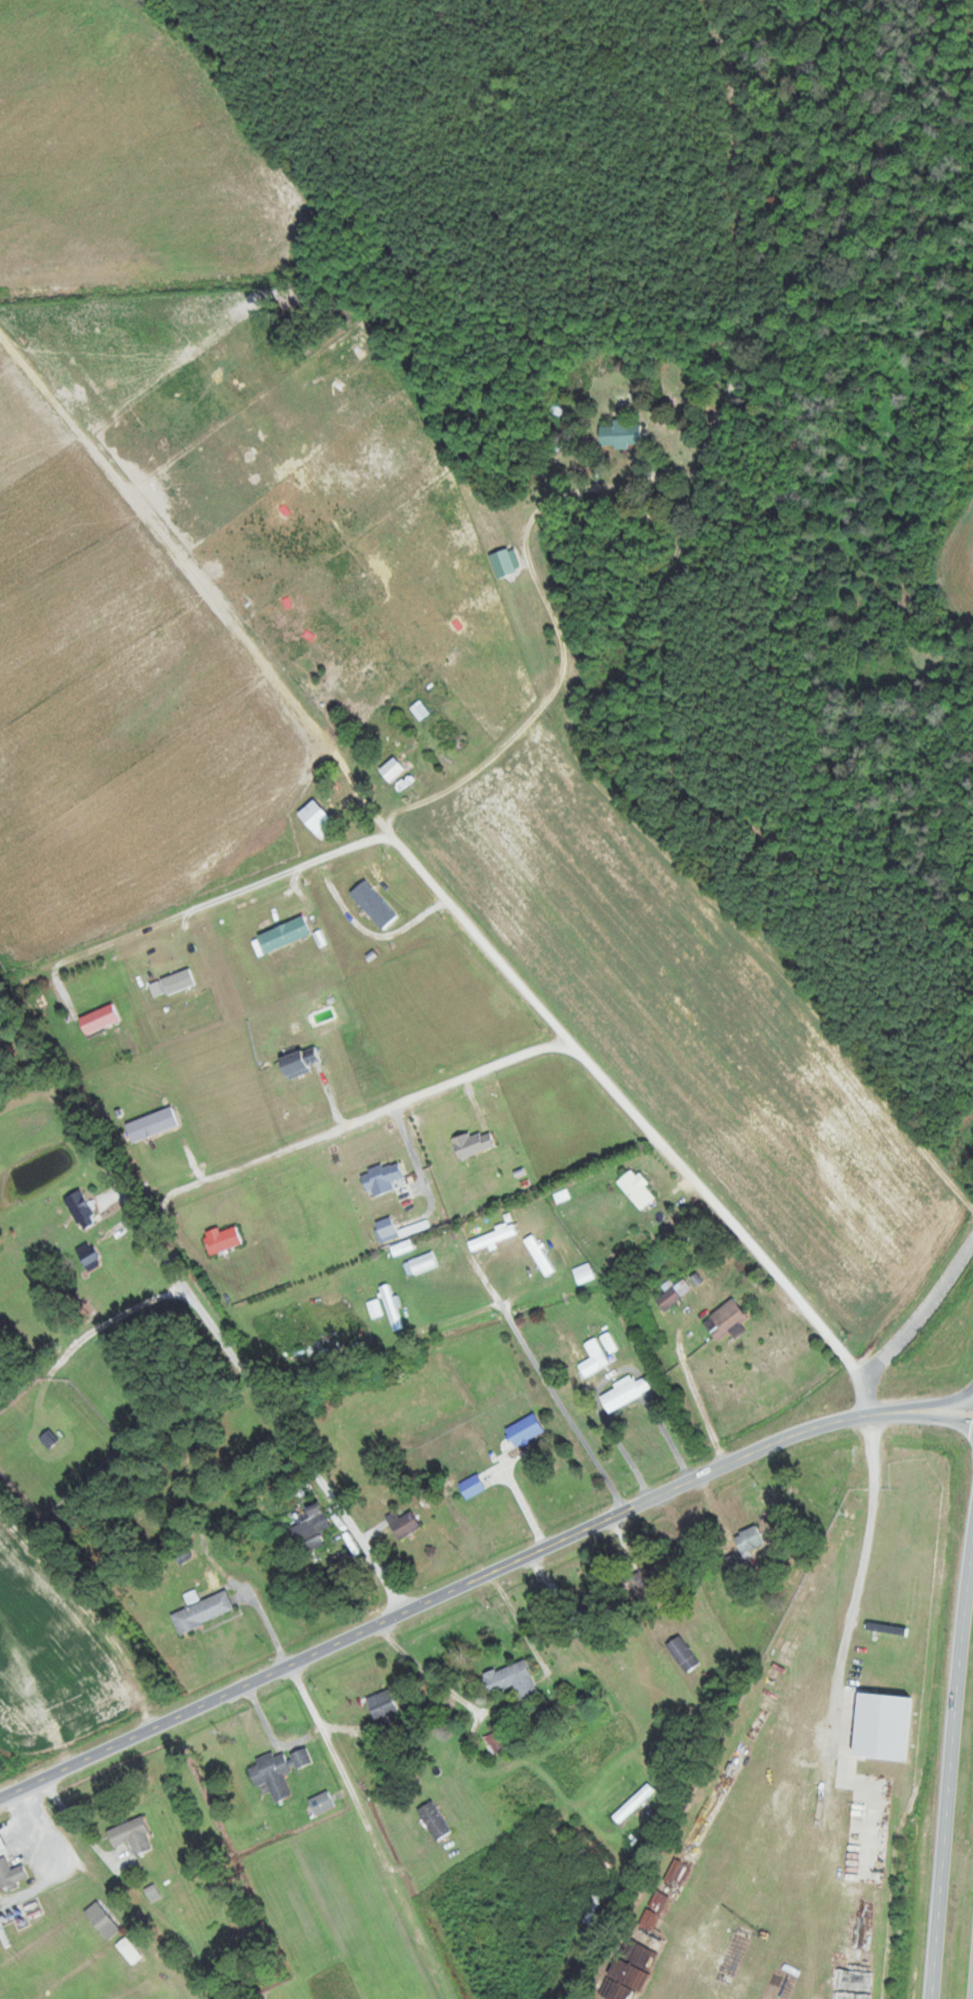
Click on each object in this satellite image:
building: (556, 412)
building: (621, 434)
road: (961, 495)
building: (316, 820)
road: (427, 881)
building: (283, 934)
building: (98, 1019)
road: (369, 1117)
building: (152, 1124)
building: (473, 1144)
building: (382, 1178)
building: (636, 1188)
building: (386, 1228)
building: (492, 1238)
building: (222, 1240)
building: (402, 1248)
building: (539, 1255)
building: (673, 1295)
building: (374, 1304)
building: (726, 1320)
building: (597, 1352)
building: (625, 1392)
road: (555, 1393)
building: (524, 1429)
building: (49, 1438)
road: (300, 1448)
building: (472, 1485)
building: (403, 1523)
building: (311, 1527)
building: (748, 1540)
road: (479, 1577)
building: (645, 1579)
building: (202, 1611)
road: (267, 1620)
building: (683, 1653)
building: (511, 1678)
road: (34, 1685)
building: (381, 1704)
building: (882, 1725)
road: (284, 1753)
building: (279, 1770)
road: (951, 1771)
building: (322, 1802)
building: (638, 1808)
building: (434, 1819)
road: (374, 1830)
building: (131, 1835)
building: (1, 1846)
building: (11, 1874)
building: (153, 1893)
building: (102, 1920)
building: (129, 1950)
building: (642, 1959)

